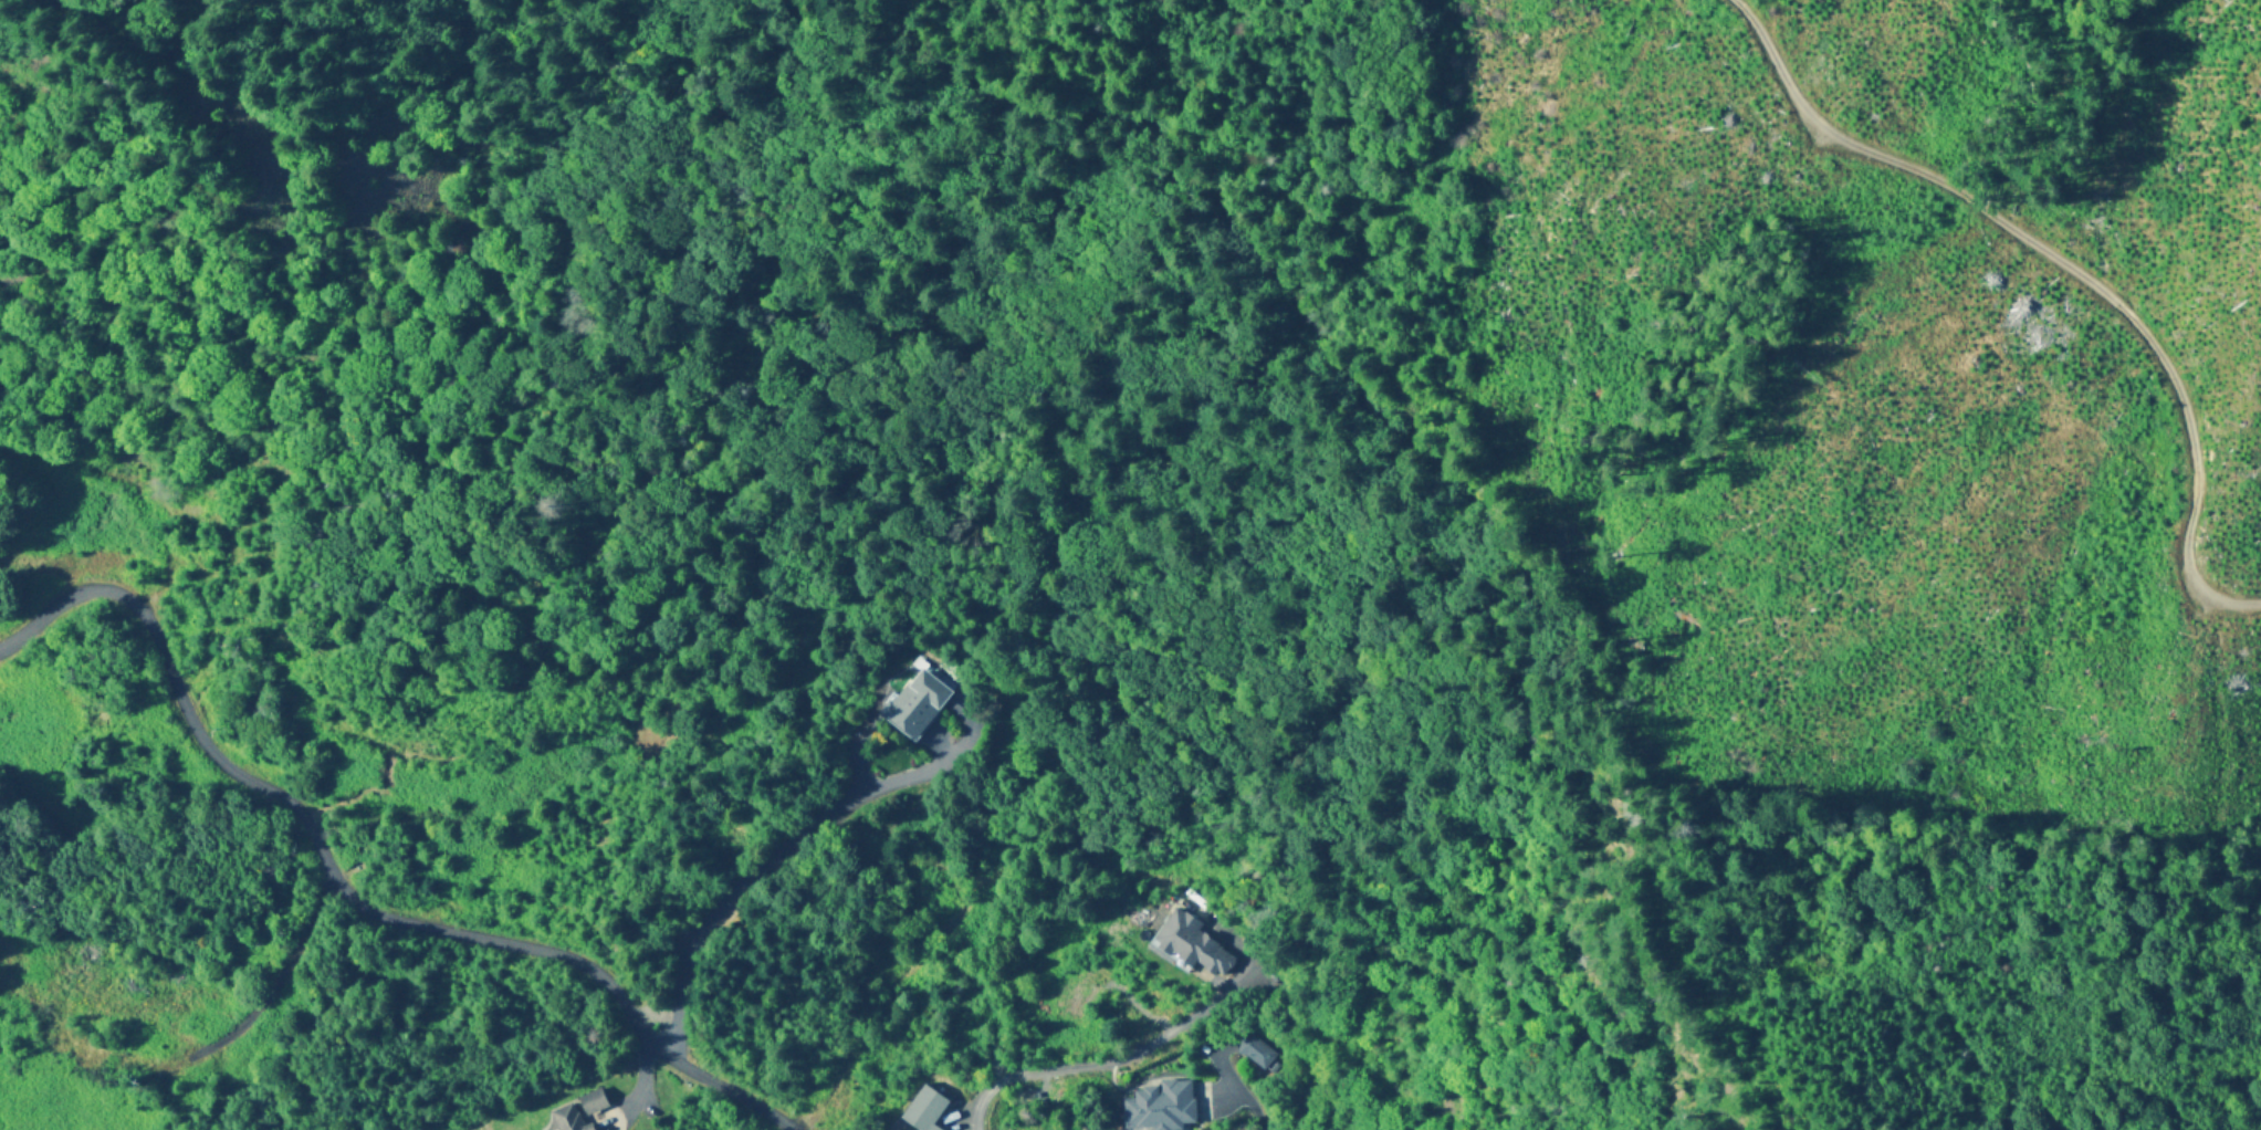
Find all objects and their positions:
road: (2039, 254)
building: (910, 707)
road: (342, 894)
building: (1190, 945)
building: (1249, 1053)
road: (1090, 1064)
building: (593, 1102)
building: (1151, 1106)

